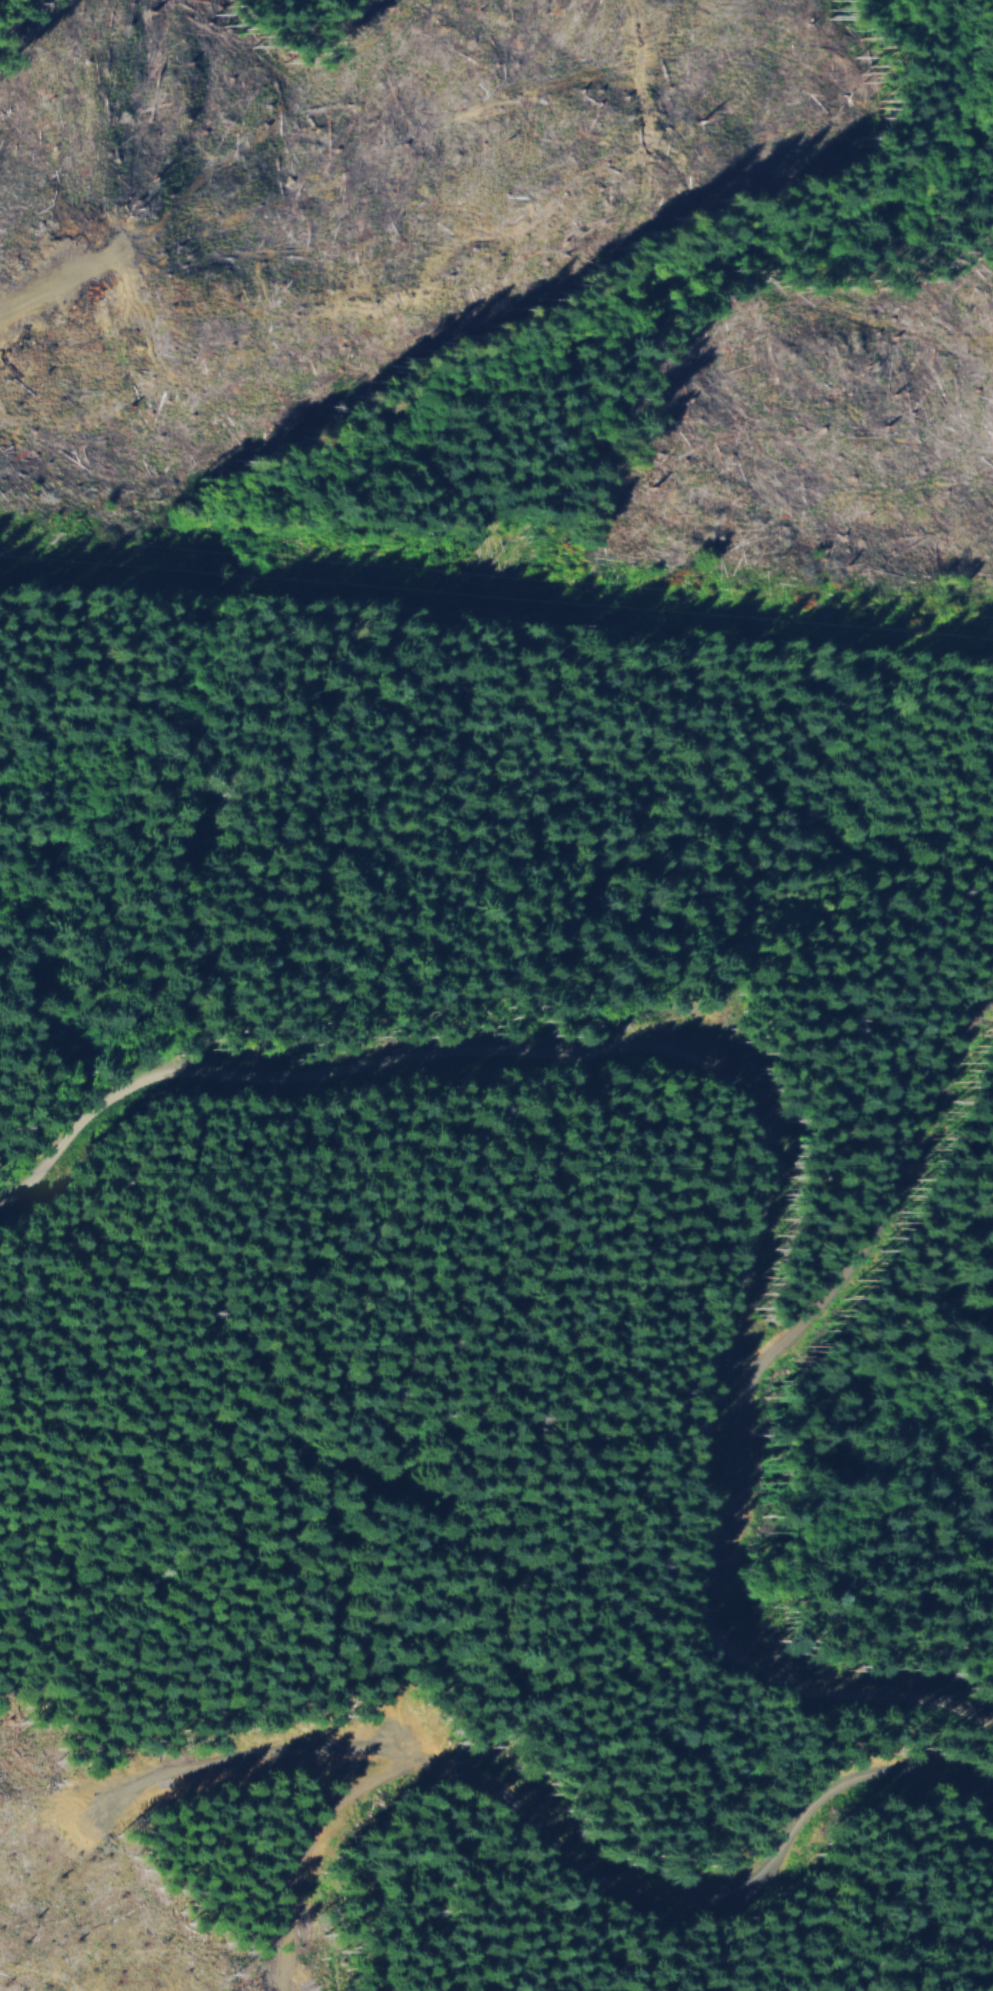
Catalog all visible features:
road: (826, 1297)
road: (687, 1300)

